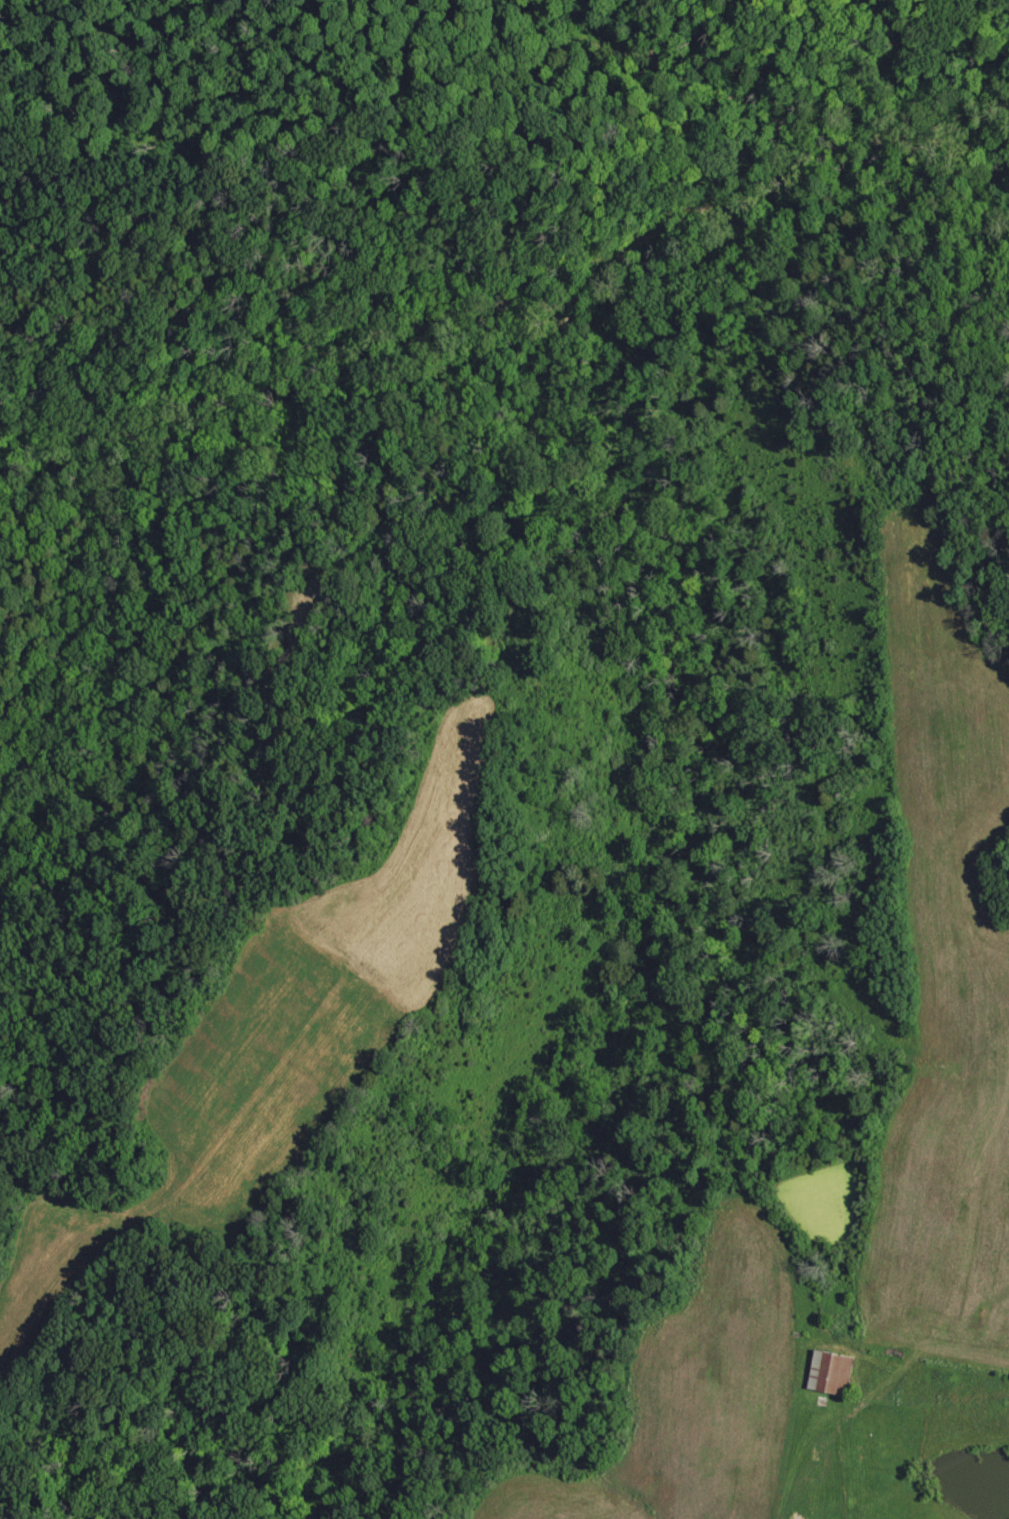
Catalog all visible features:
building: (833, 1371)

